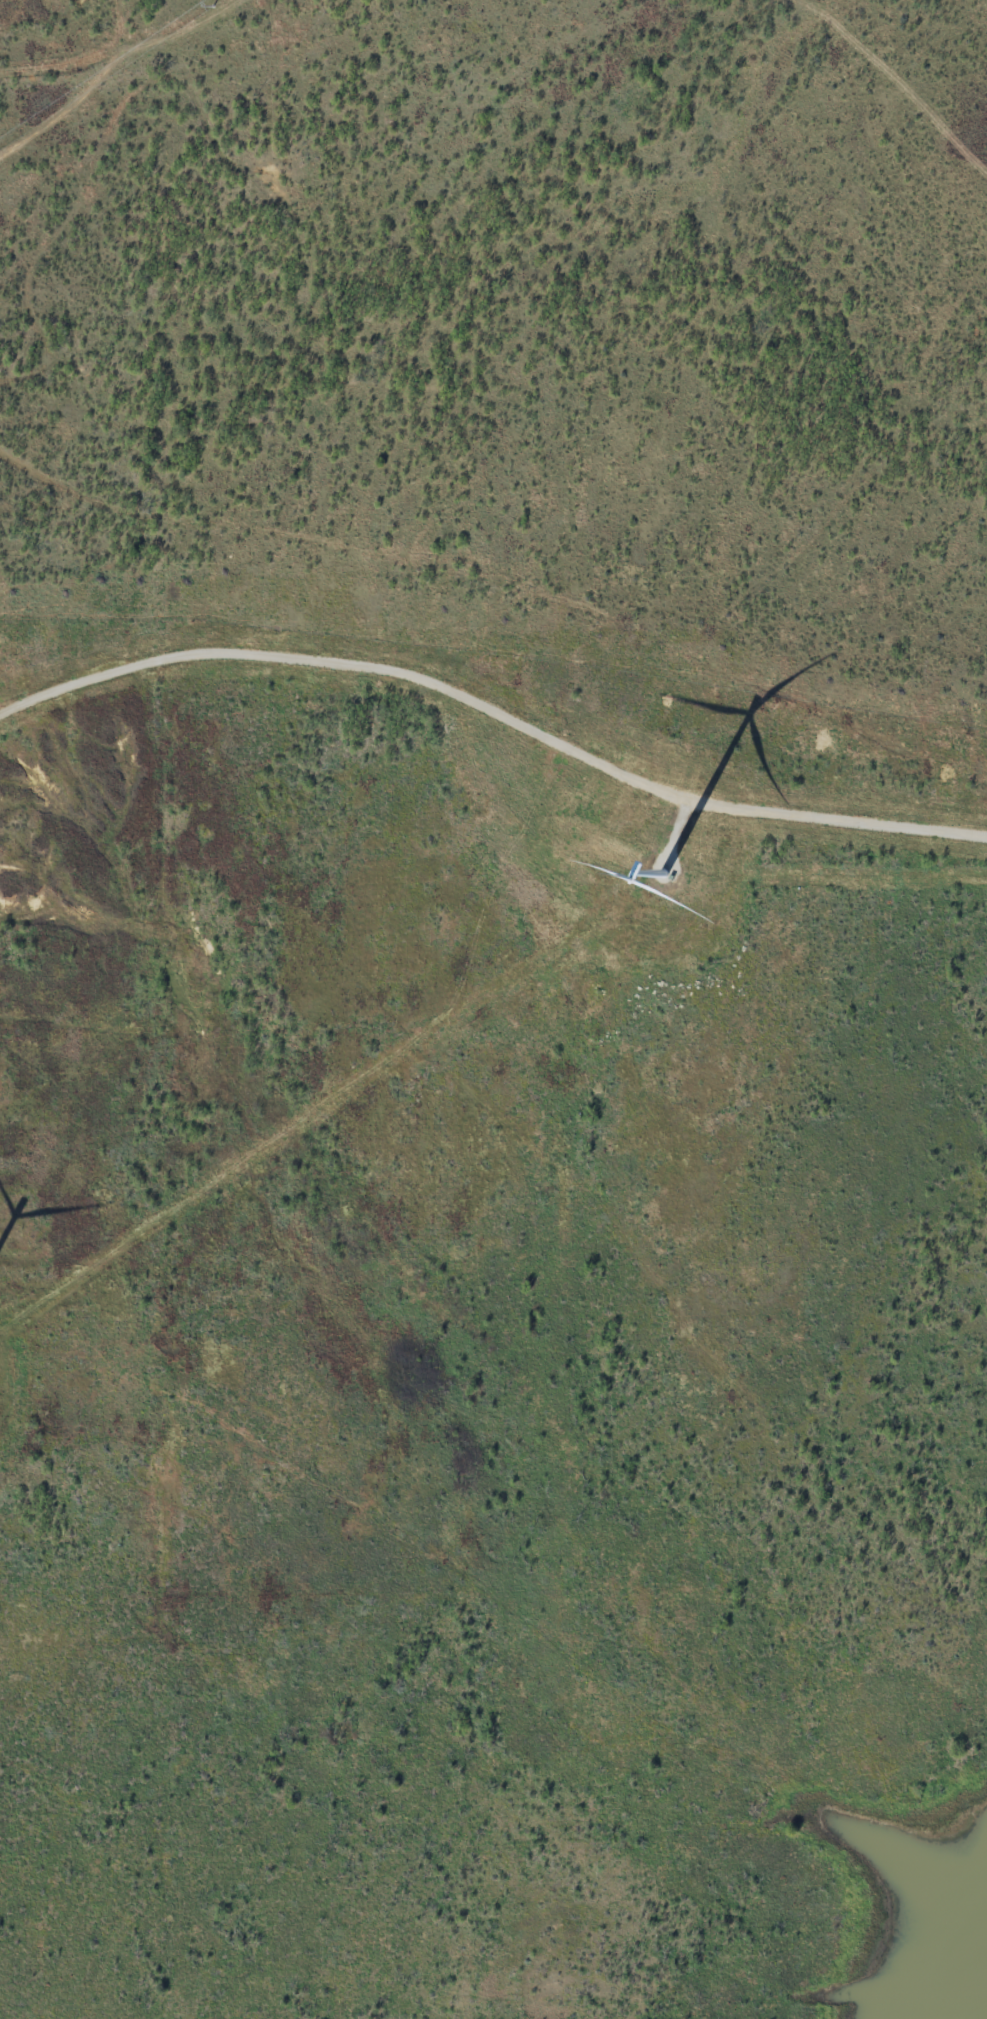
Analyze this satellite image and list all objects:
road: (75, 34)
road: (118, 59)
road: (512, 592)
wind turbine: (665, 876)

